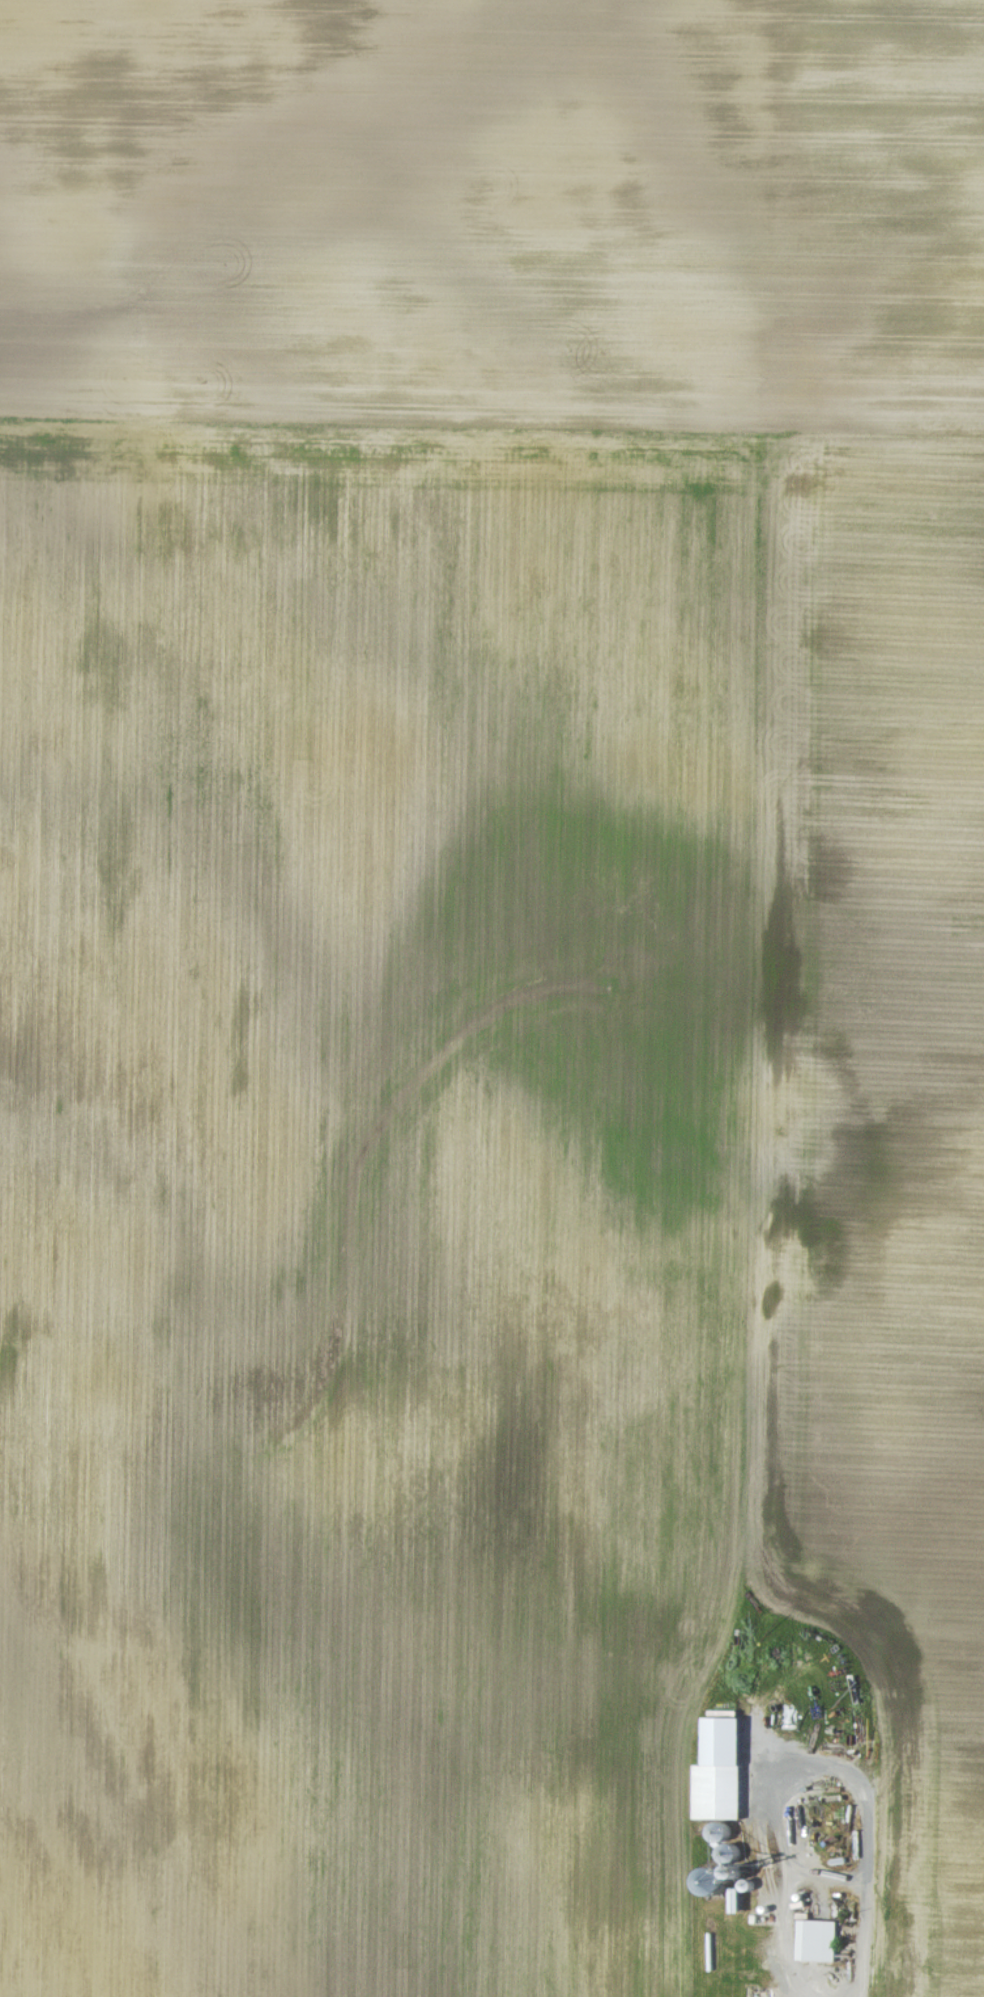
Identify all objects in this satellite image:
road: (816, 1765)
building: (820, 1939)
road: (790, 1976)

